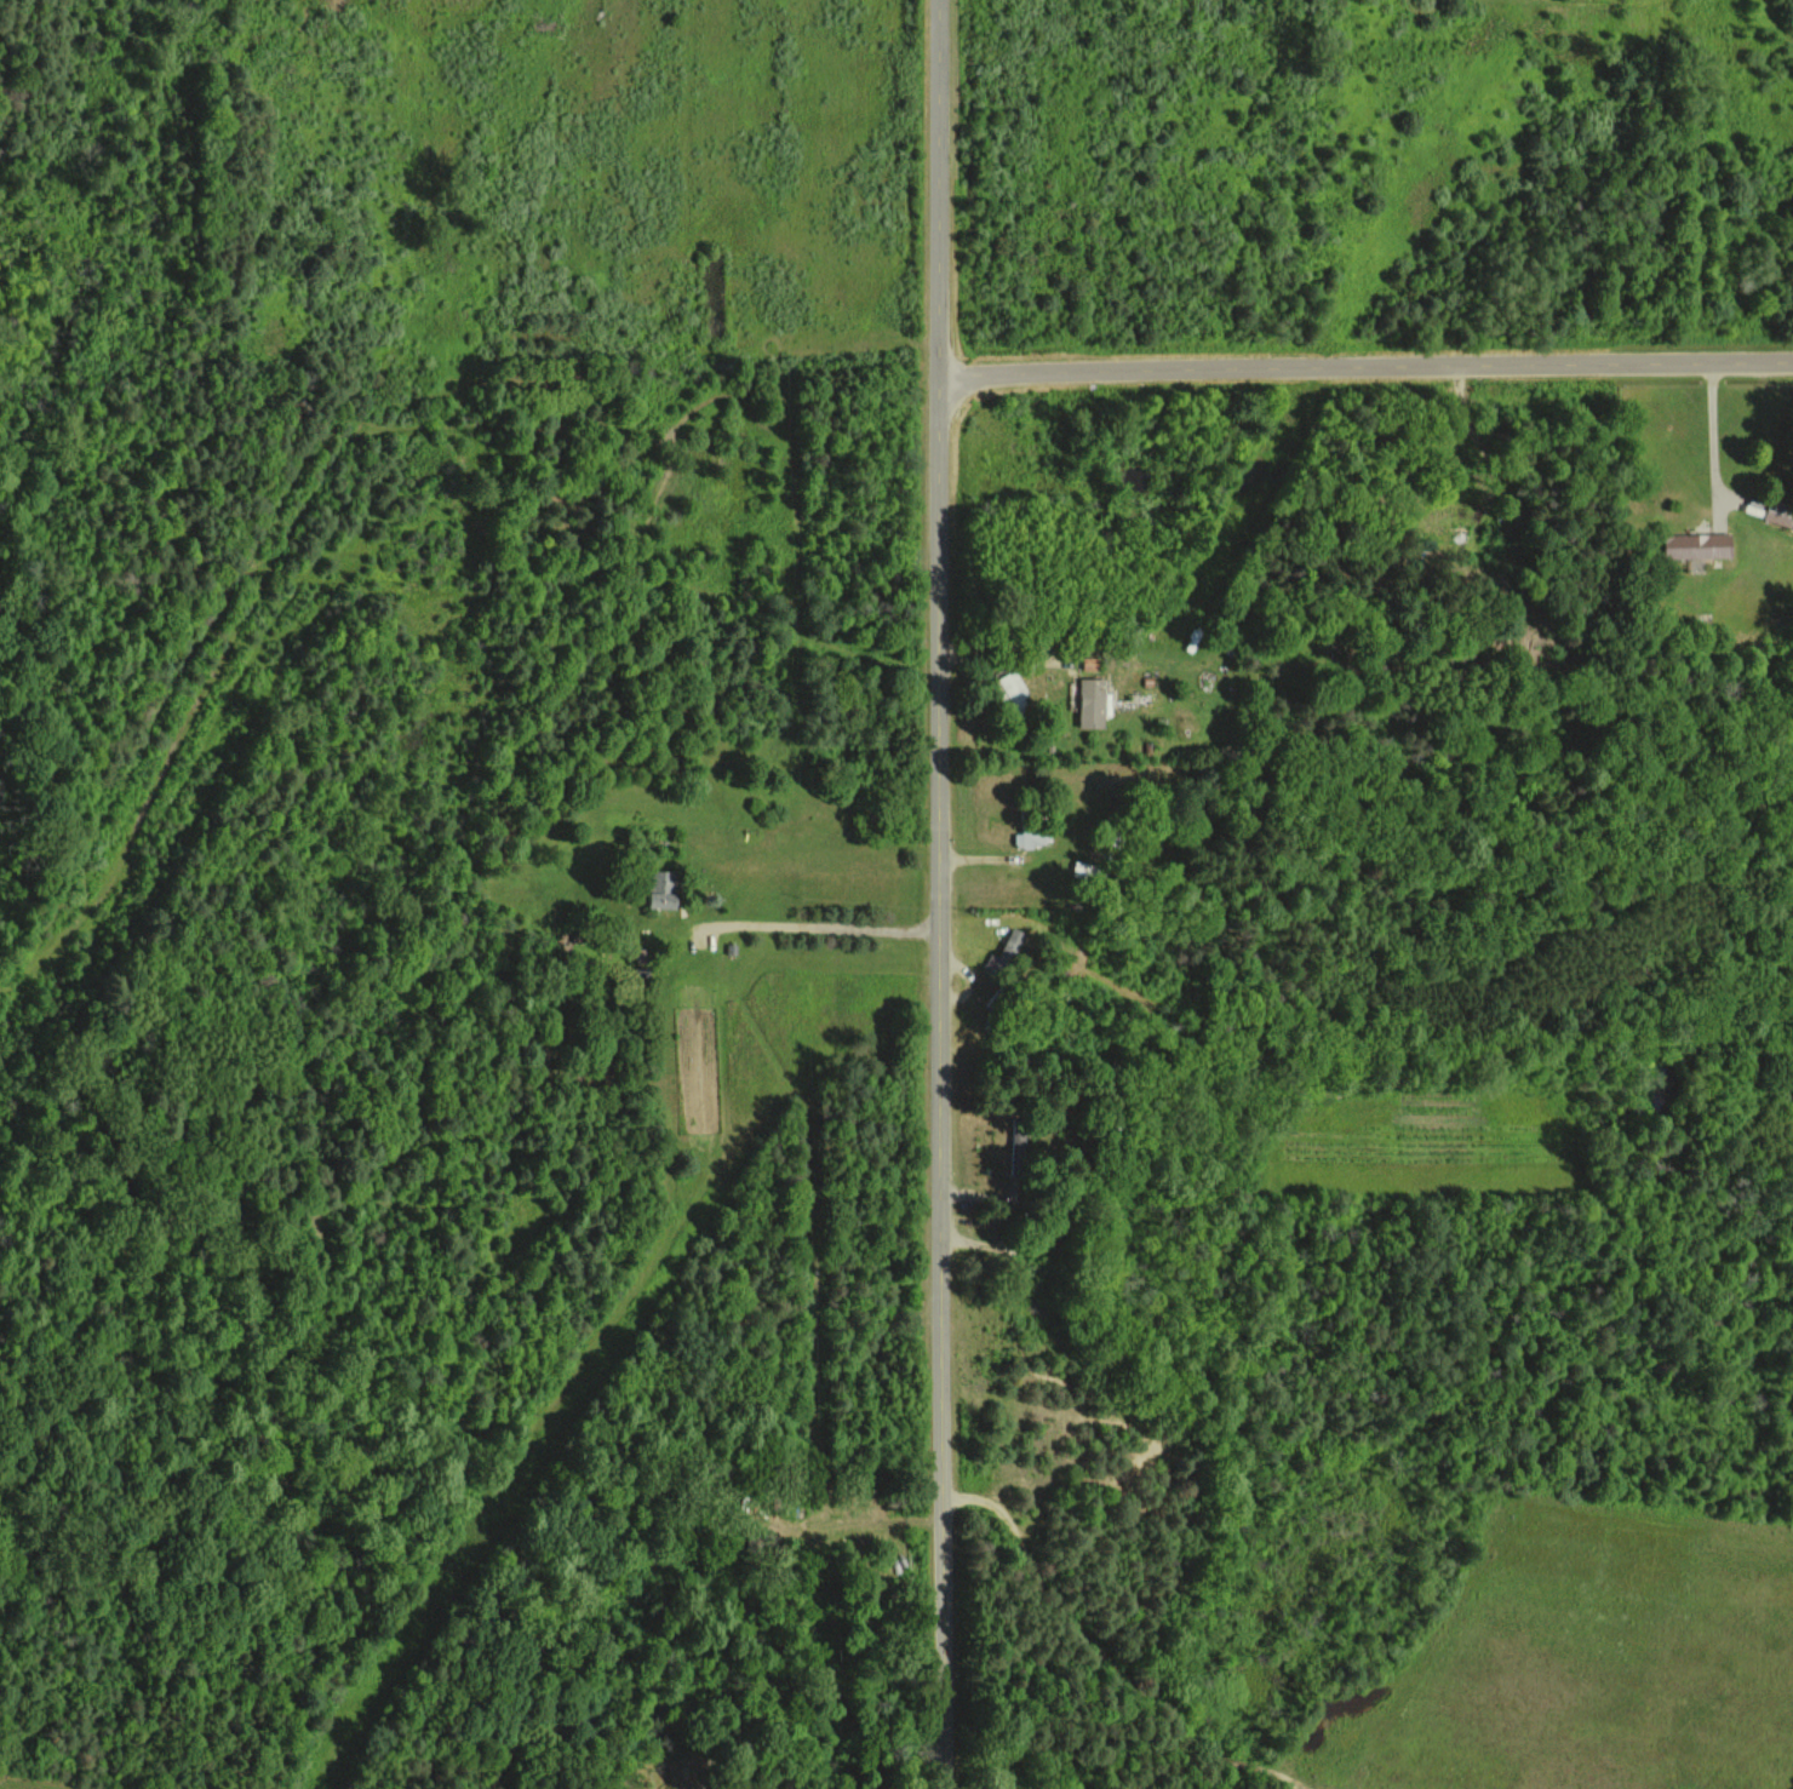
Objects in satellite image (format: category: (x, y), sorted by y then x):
road: (1371, 375)
road: (1715, 446)
building: (1696, 545)
building: (1013, 686)
building: (1092, 701)
building: (1026, 838)
building: (661, 888)
road: (949, 894)
road: (827, 919)
building: (1012, 942)

